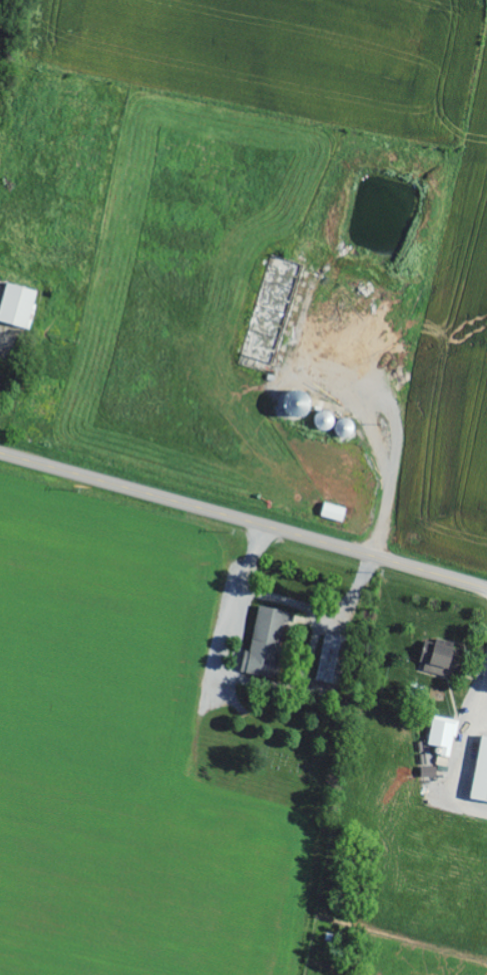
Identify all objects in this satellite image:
building: (16, 306)
building: (270, 316)
building: (333, 512)
road: (243, 519)
building: (265, 642)
building: (435, 657)
building: (331, 659)
building: (453, 663)
road: (452, 724)
building: (442, 735)
building: (480, 772)

